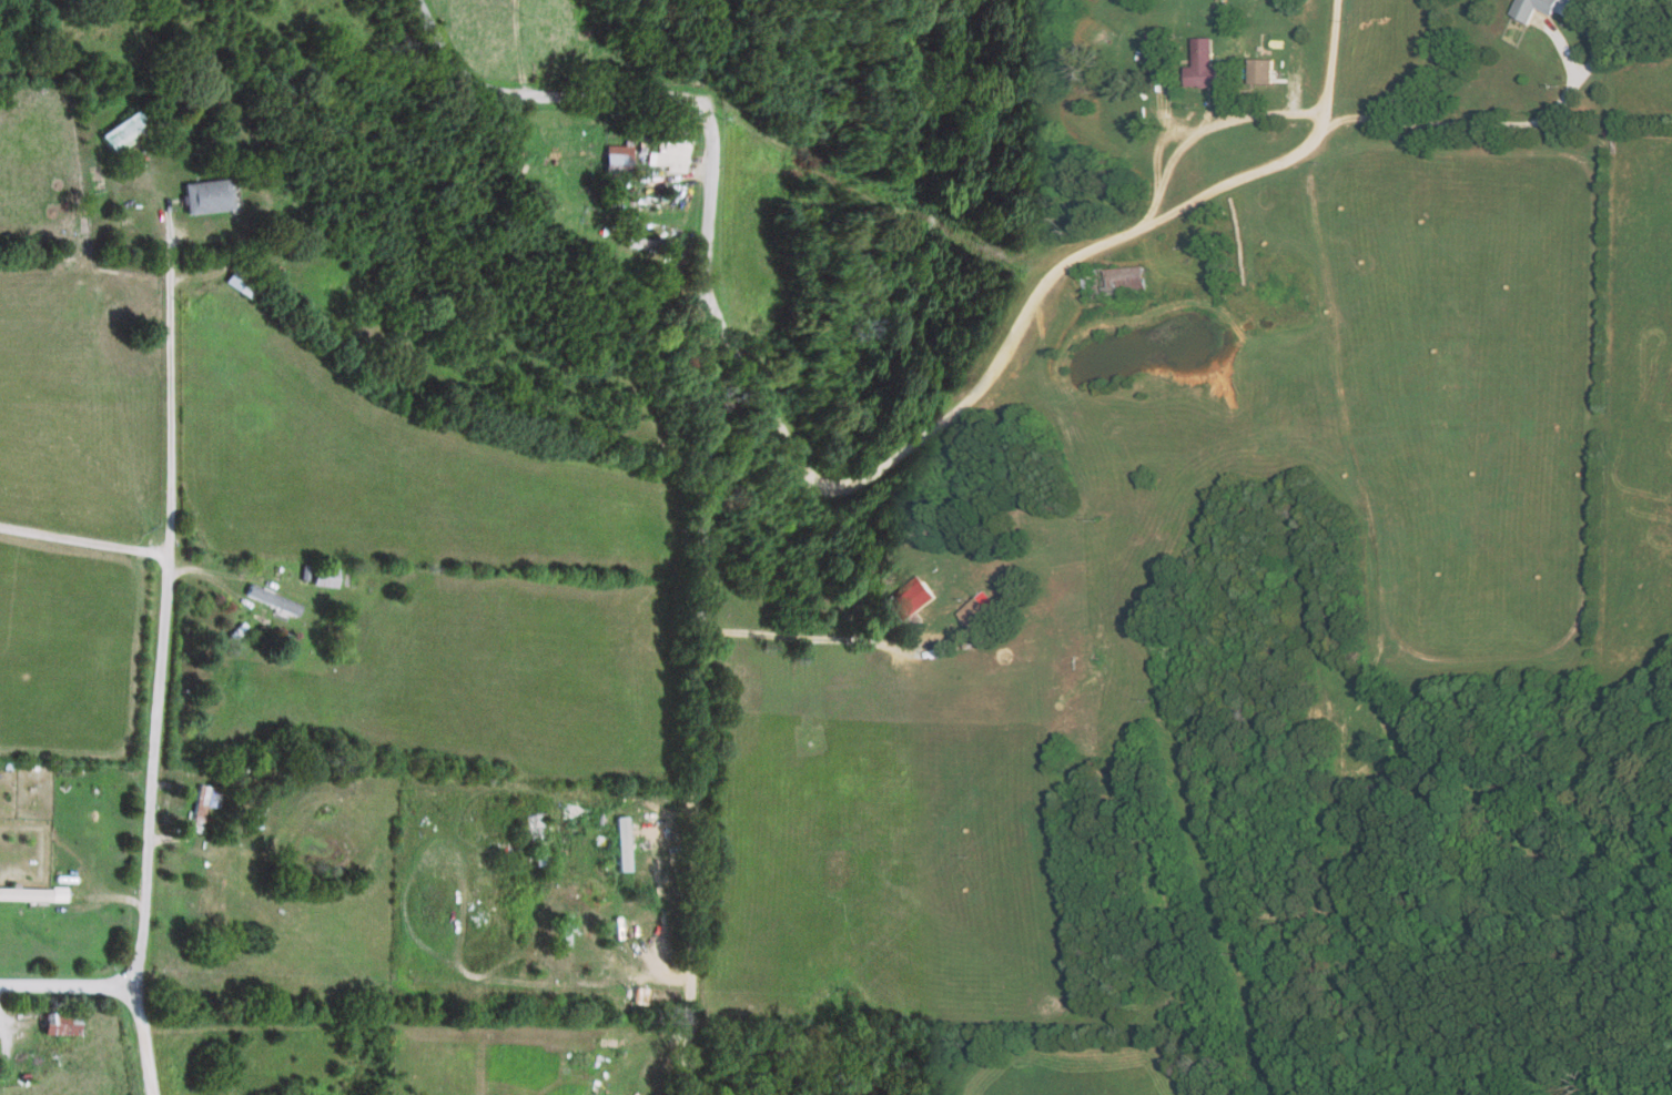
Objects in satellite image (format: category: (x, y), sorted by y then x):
building: (1562, 9)
building: (1154, 45)
road: (1320, 54)
building: (1200, 64)
building: (1259, 70)
building: (118, 130)
building: (668, 149)
building: (616, 159)
building: (200, 194)
building: (648, 242)
road: (1091, 245)
building: (1112, 278)
building: (235, 280)
road: (697, 438)
road: (82, 543)
road: (230, 576)
building: (267, 598)
building: (912, 599)
building: (976, 608)
road: (159, 627)
building: (196, 804)
building: (617, 842)
building: (20, 892)
road: (64, 985)
building: (51, 1023)

